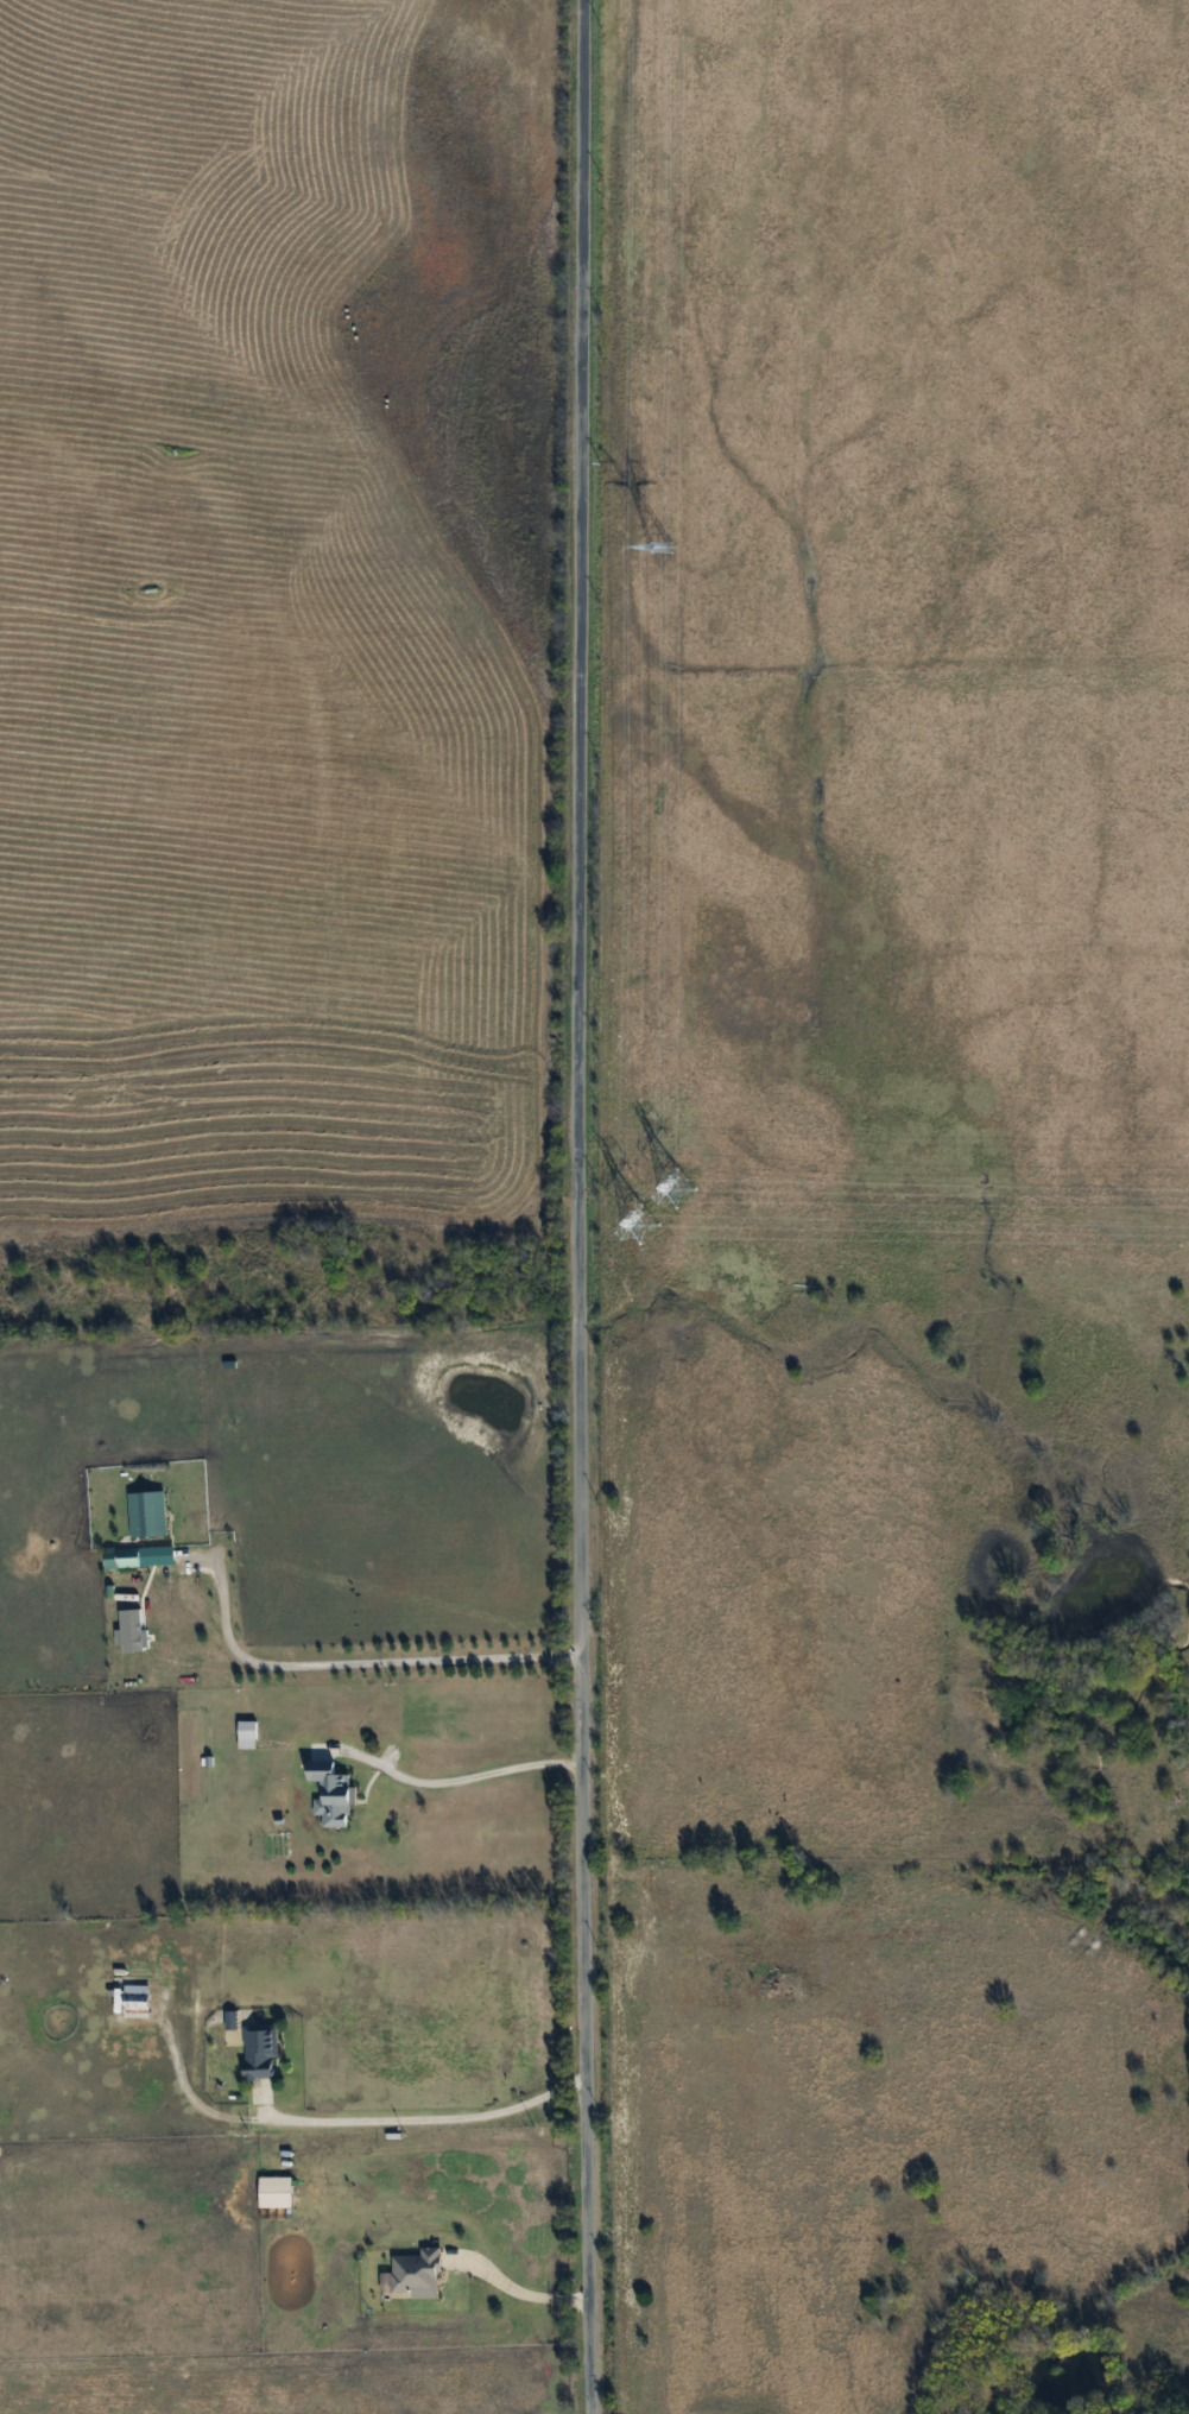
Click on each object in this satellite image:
power tower: (663, 549)
power tower: (659, 1206)
road: (583, 1207)
building: (12, 1430)
building: (146, 1515)
building: (127, 1559)
road: (356, 1661)
building: (246, 1734)
road: (469, 1776)
building: (327, 1793)
building: (134, 2001)
building: (253, 2048)
road: (429, 2117)
building: (416, 2274)
road: (513, 2293)

